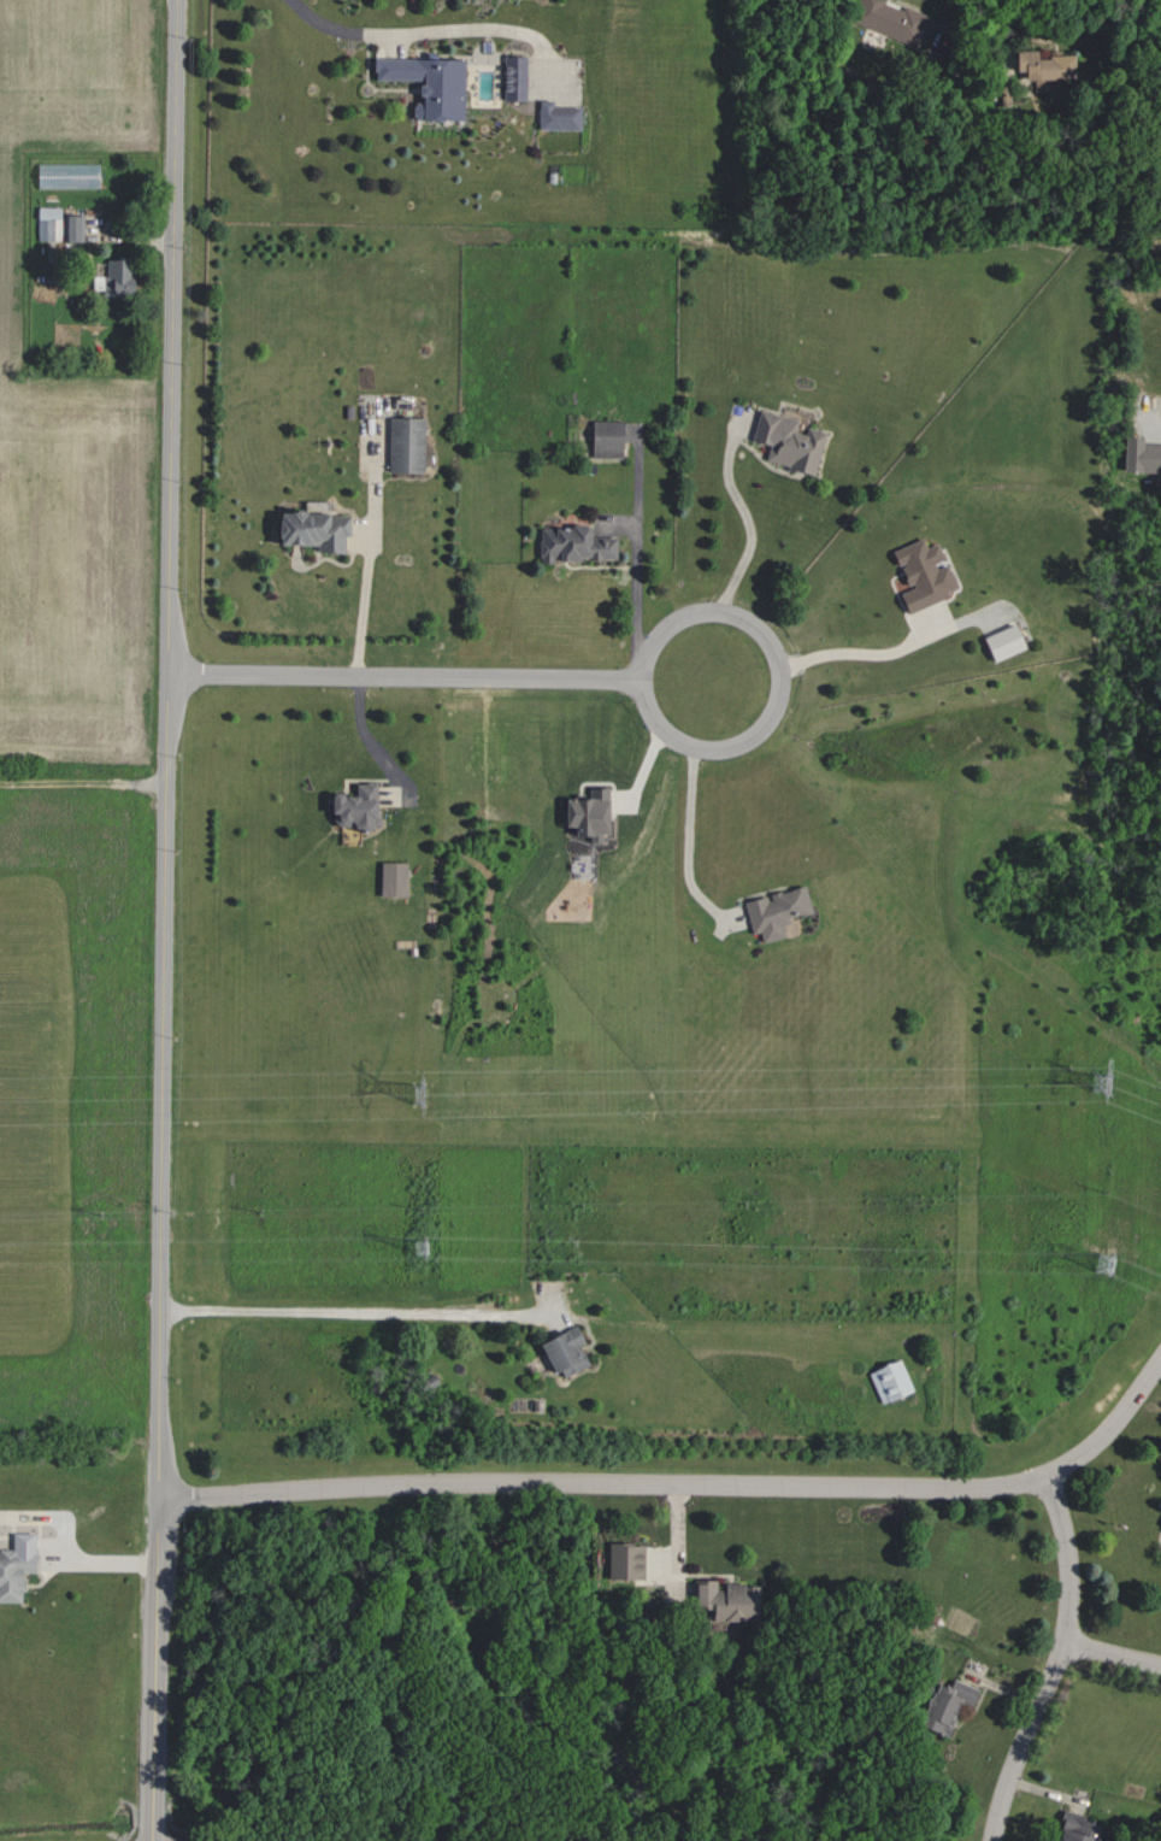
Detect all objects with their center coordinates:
building: (889, 18)
road: (1019, 19)
road: (428, 31)
building: (1041, 66)
building: (509, 76)
building: (425, 82)
building: (555, 114)
building: (65, 175)
building: (47, 222)
building: (71, 225)
building: (114, 275)
building: (603, 437)
building: (784, 440)
building: (403, 442)
building: (1139, 453)
building: (308, 528)
building: (571, 542)
road: (637, 554)
road: (743, 557)
building: (919, 572)
road: (367, 582)
building: (1000, 641)
road: (836, 652)
road: (442, 678)
road: (367, 741)
road: (83, 778)
road: (689, 801)
building: (349, 805)
building: (583, 813)
building: (390, 877)
building: (773, 910)
road: (165, 919)
power tower: (1101, 1083)
power tower: (424, 1095)
power tower: (424, 1247)
power tower: (1108, 1265)
road: (349, 1308)
building: (561, 1351)
building: (888, 1380)
road: (684, 1484)
road: (76, 1553)
building: (623, 1560)
building: (14, 1564)
building: (723, 1600)
road: (1112, 1655)
road: (1062, 1657)
building: (942, 1704)
road: (918, 1719)
road: (1022, 1741)
building: (1073, 1829)

